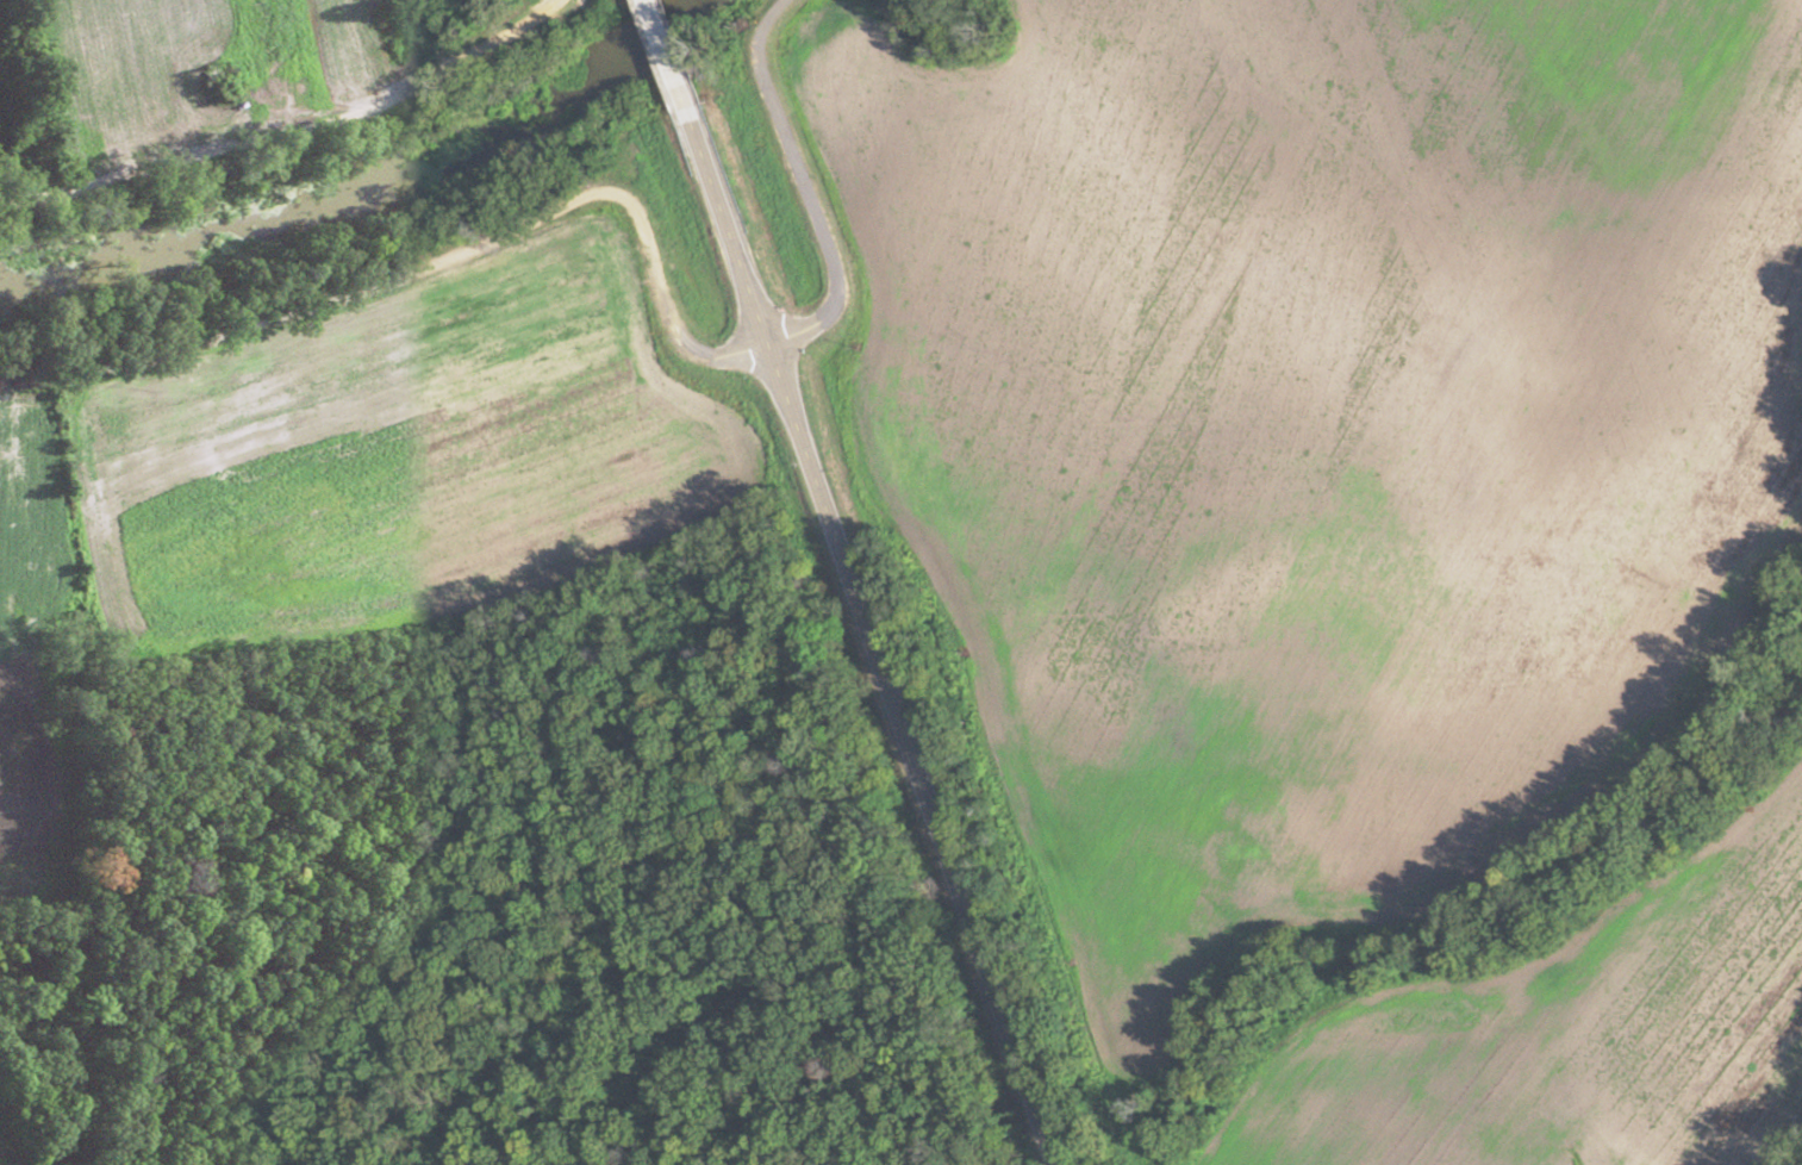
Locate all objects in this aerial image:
airport runway: (274, 39)
road: (669, 60)
road: (293, 137)
road: (808, 189)
river: (361, 191)
road: (879, 640)

